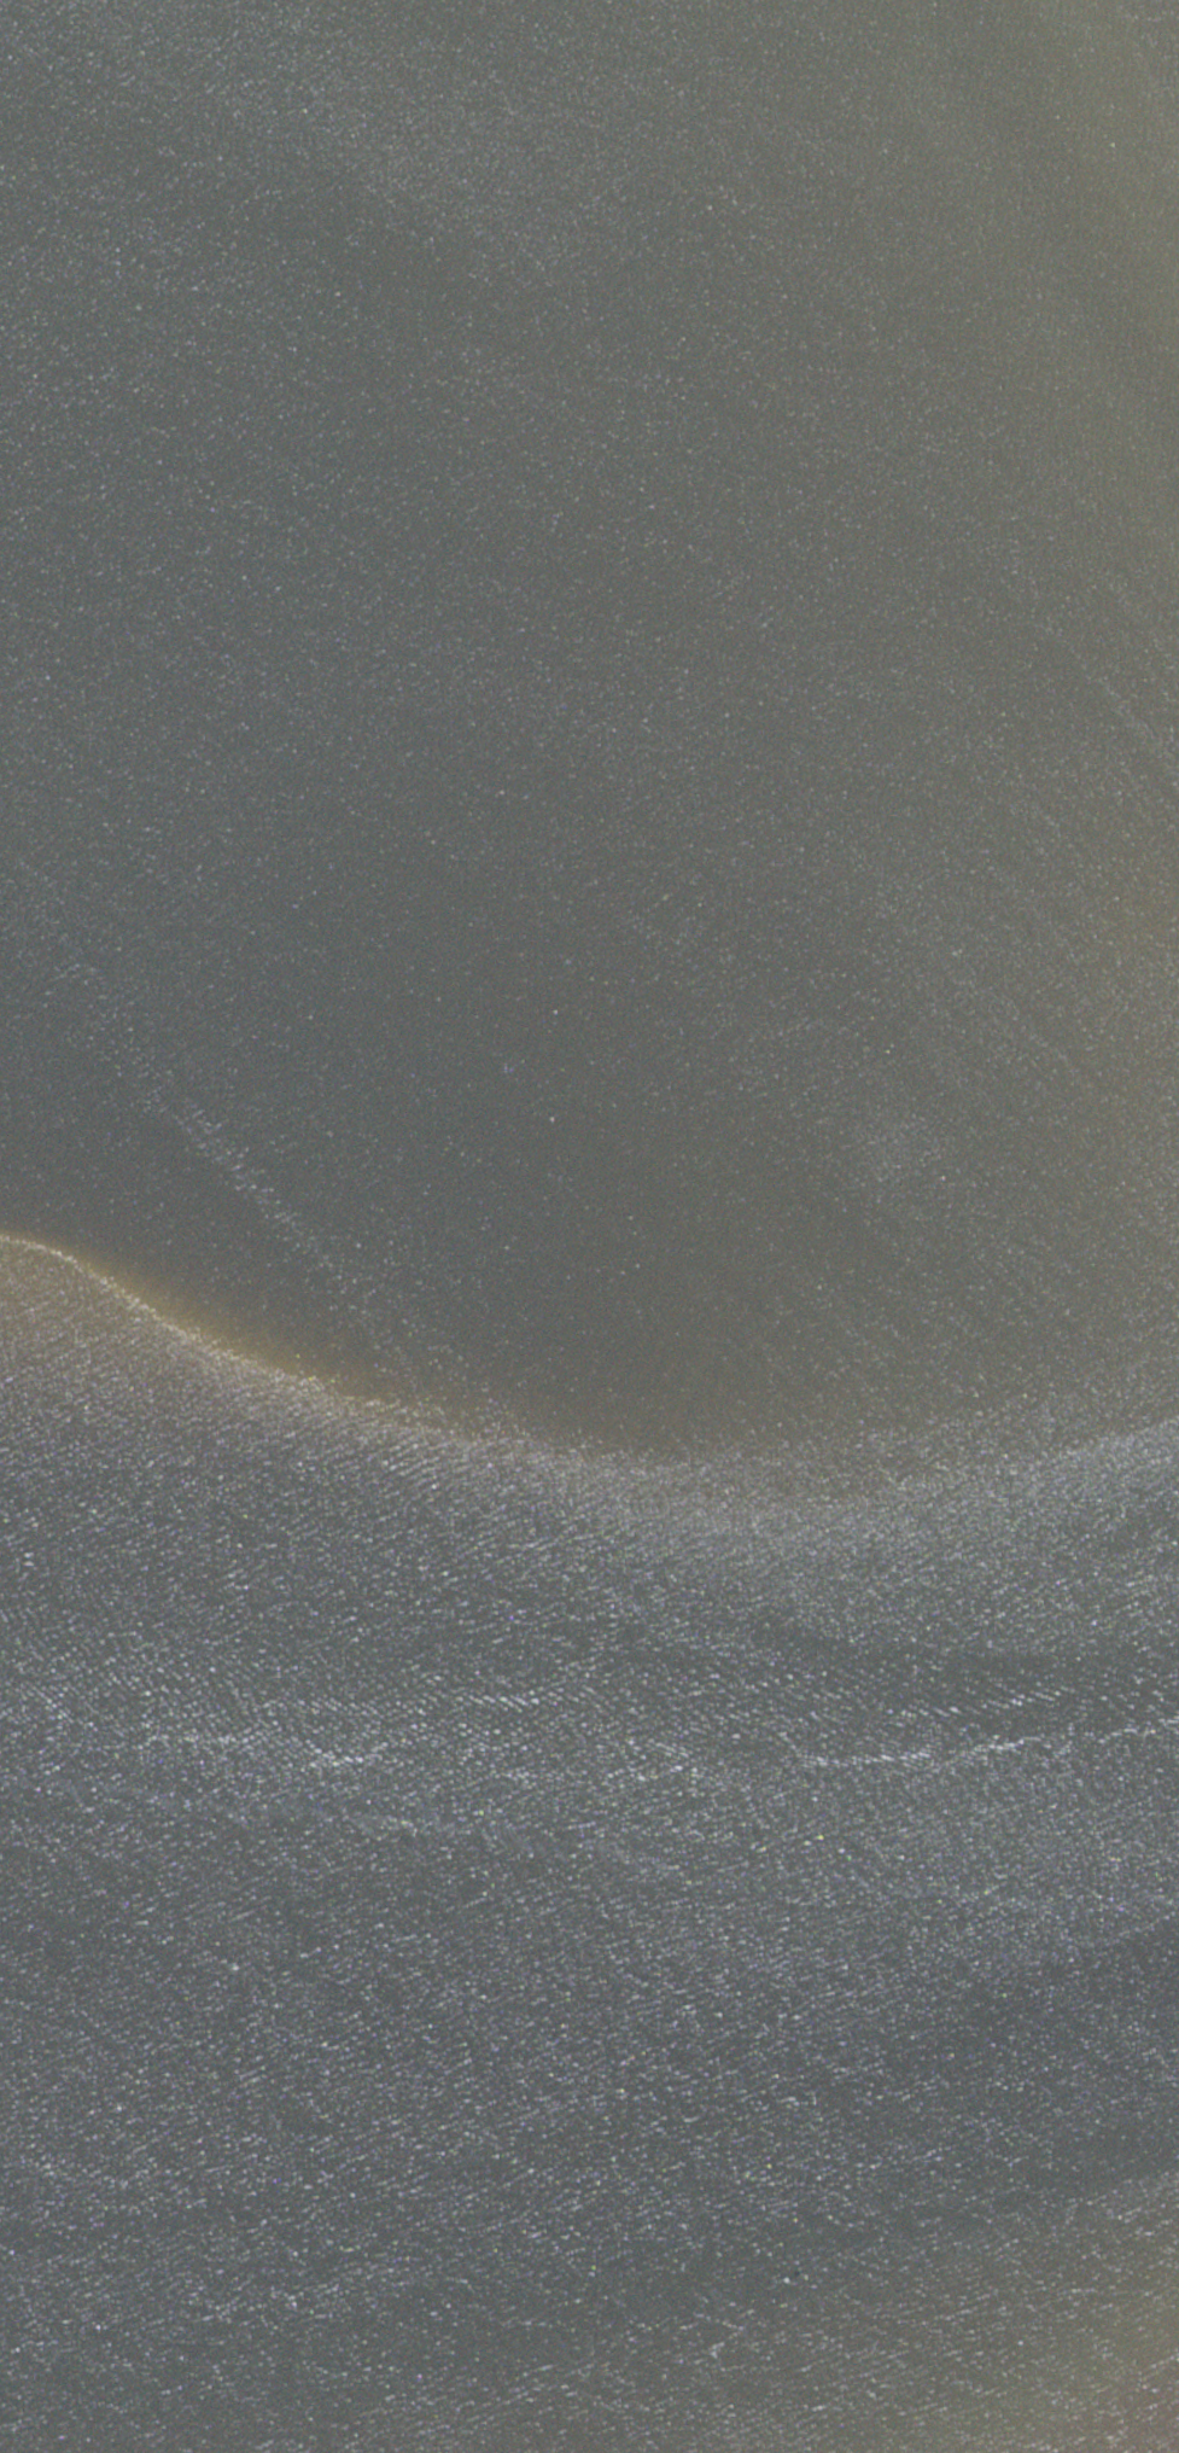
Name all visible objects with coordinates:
river: (991, 2260)

